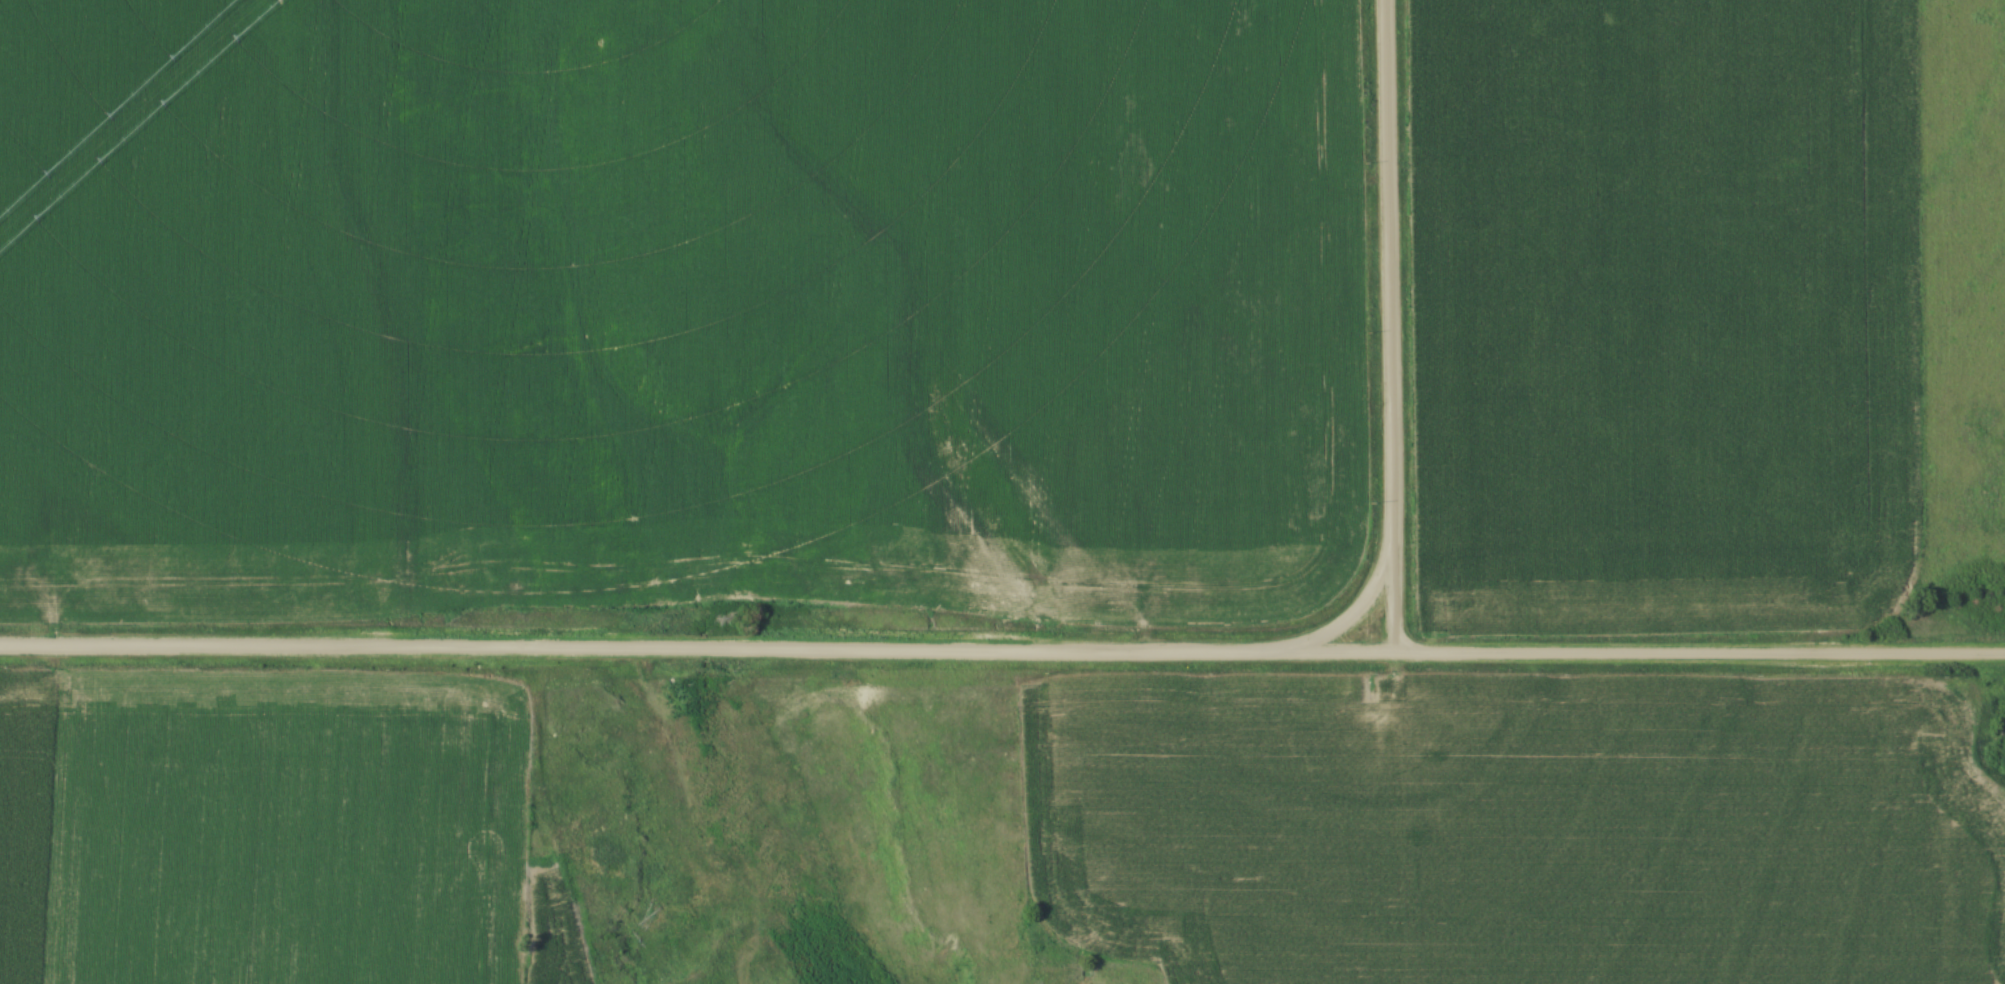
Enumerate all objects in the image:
road: (1387, 353)
road: (1393, 601)
road: (641, 648)
road: (1643, 657)

